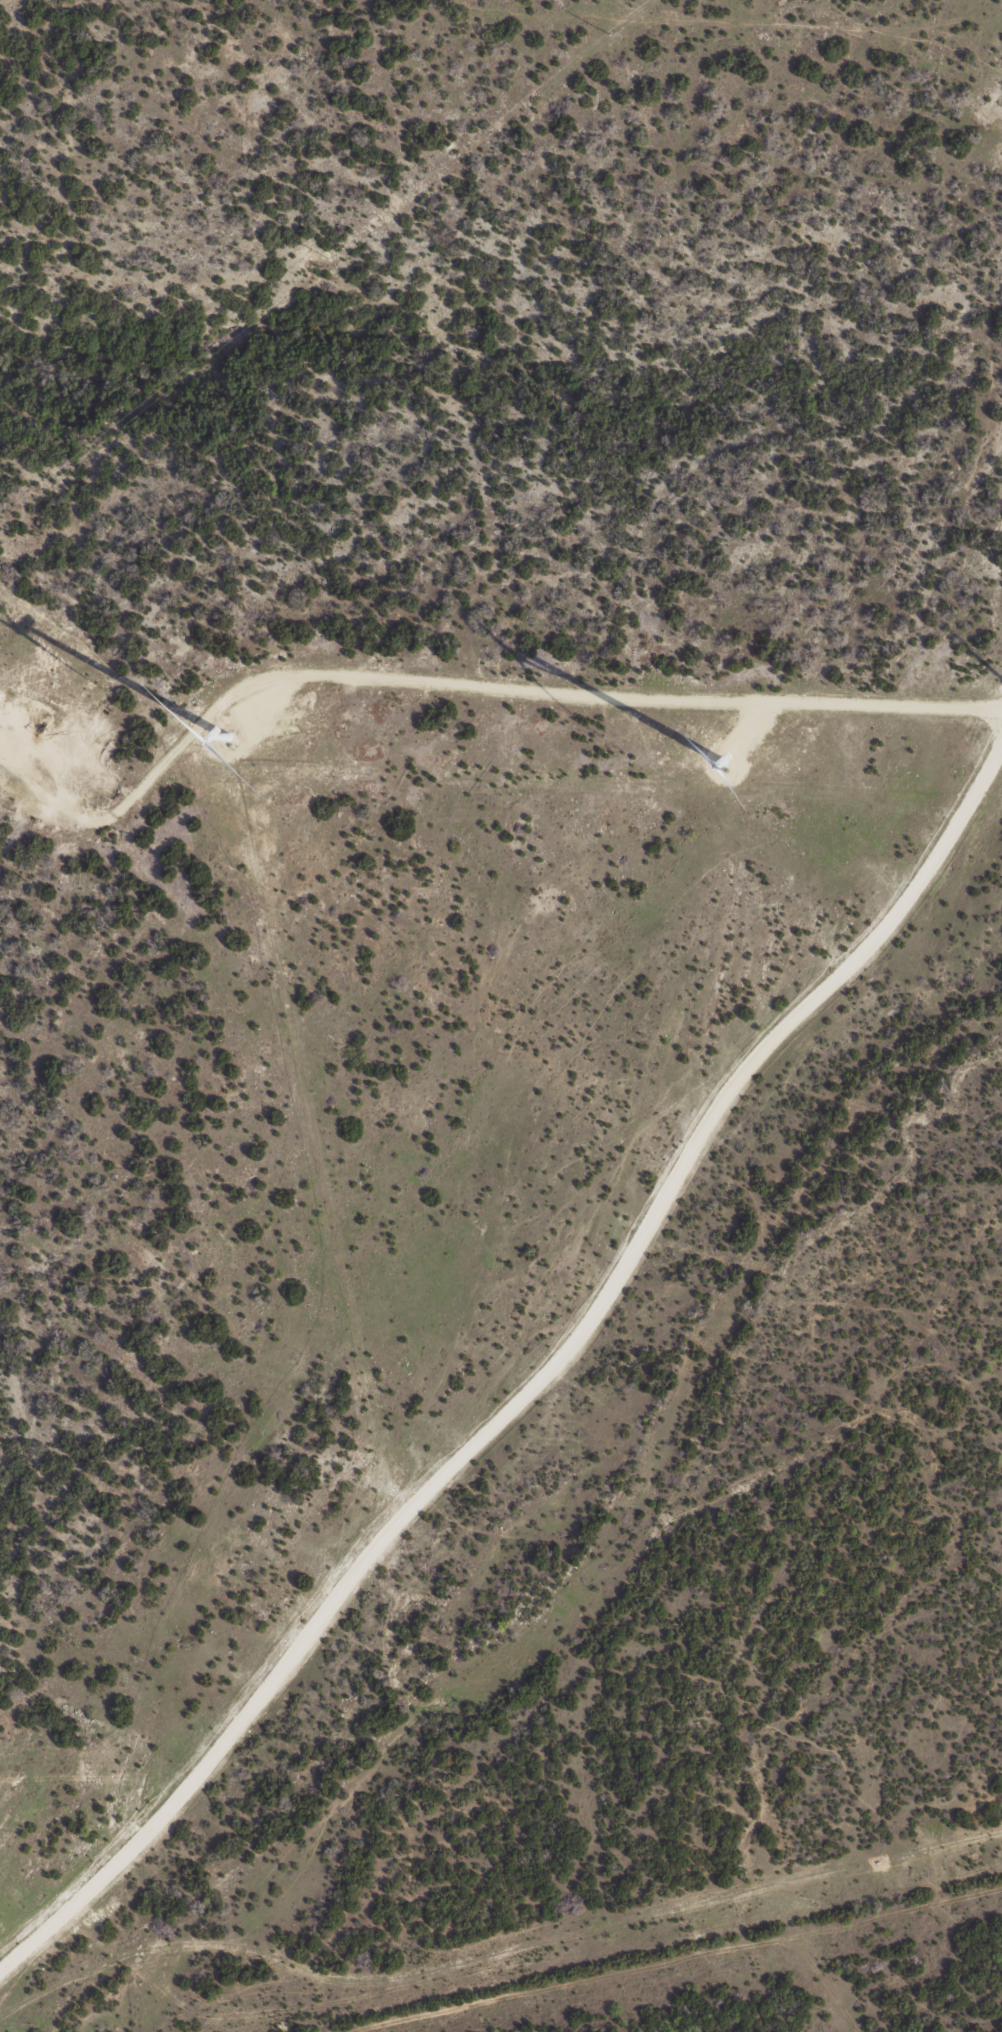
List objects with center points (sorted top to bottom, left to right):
power tower: (609, 36)
power tower: (329, 257)
wind turbine: (258, 730)
wind turbine: (719, 760)
road: (547, 1389)

